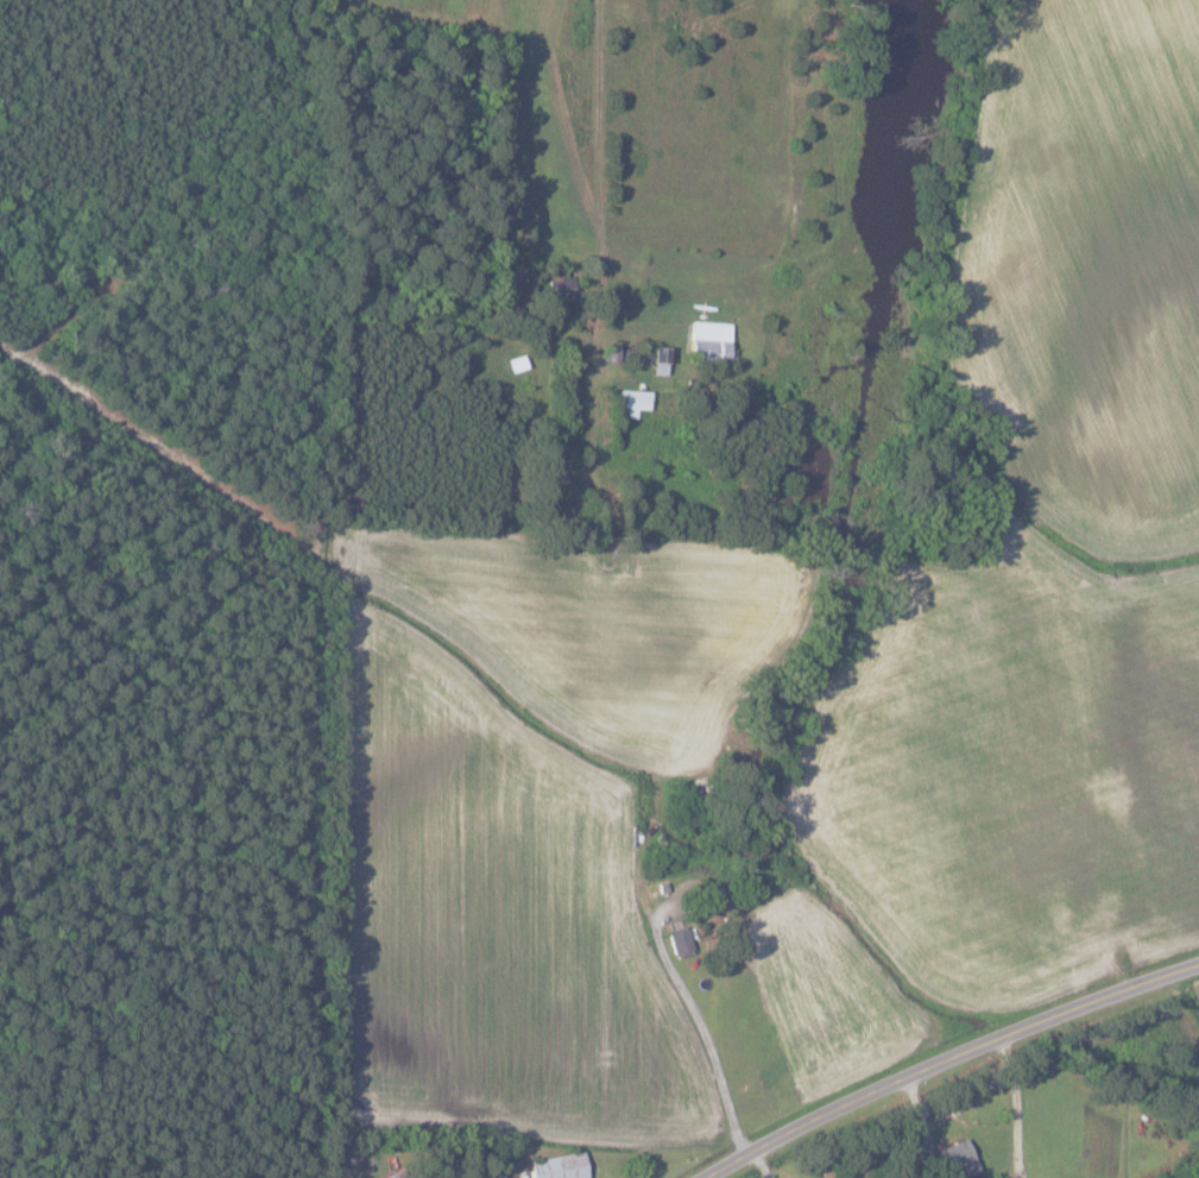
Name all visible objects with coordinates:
road: (602, 238)
building: (560, 284)
building: (711, 341)
building: (660, 359)
building: (633, 401)
road: (707, 1039)
road: (953, 1065)
building: (953, 1159)
building: (559, 1166)
building: (393, 1176)

